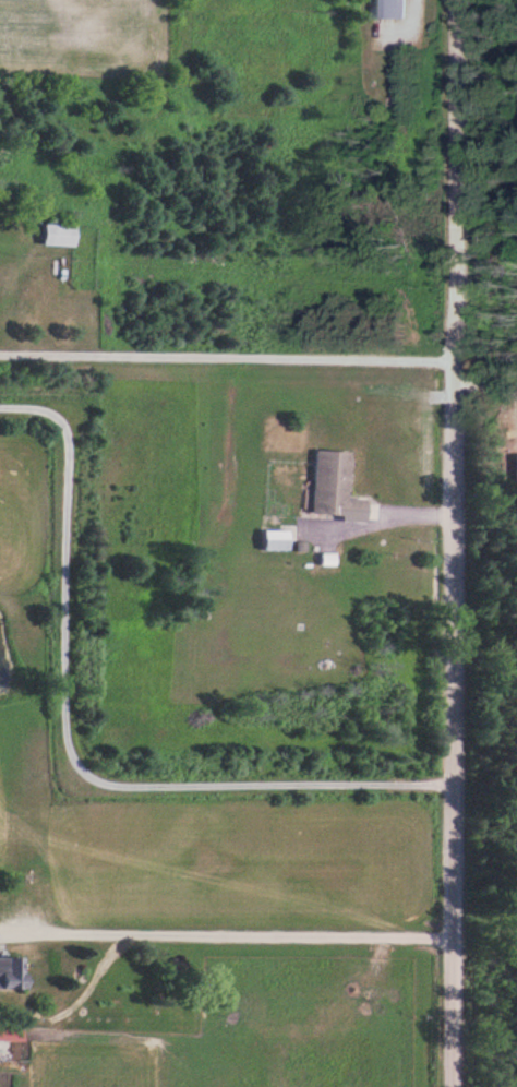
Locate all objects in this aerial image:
building: (56, 232)
building: (333, 486)
building: (275, 538)
road: (450, 542)
building: (9, 970)
building: (8, 1032)

